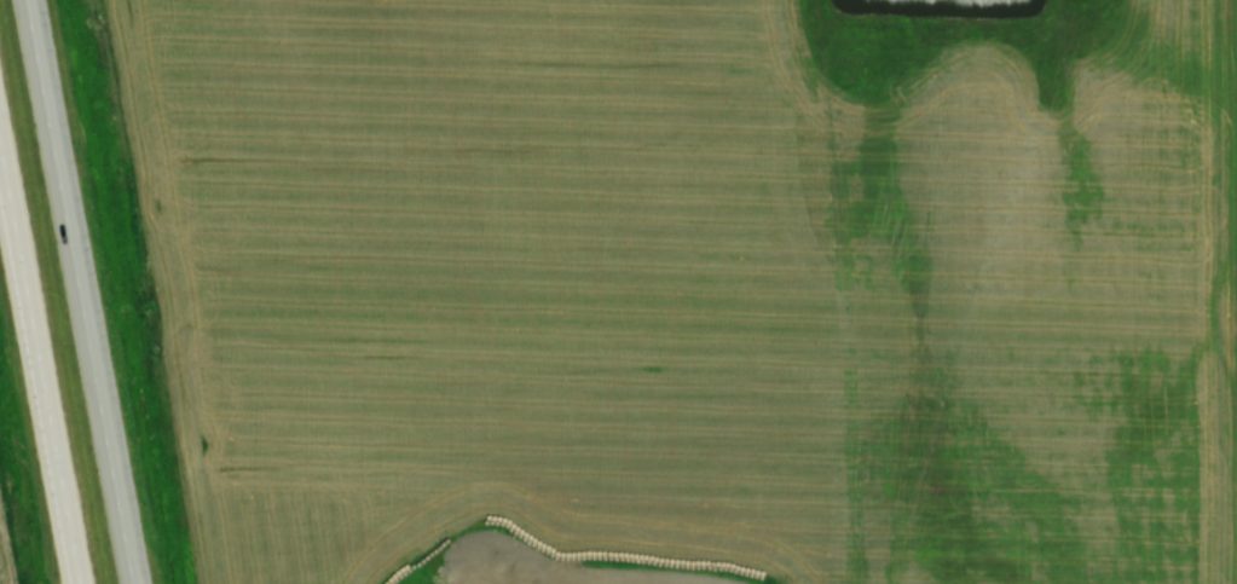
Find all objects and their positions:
road: (83, 291)

